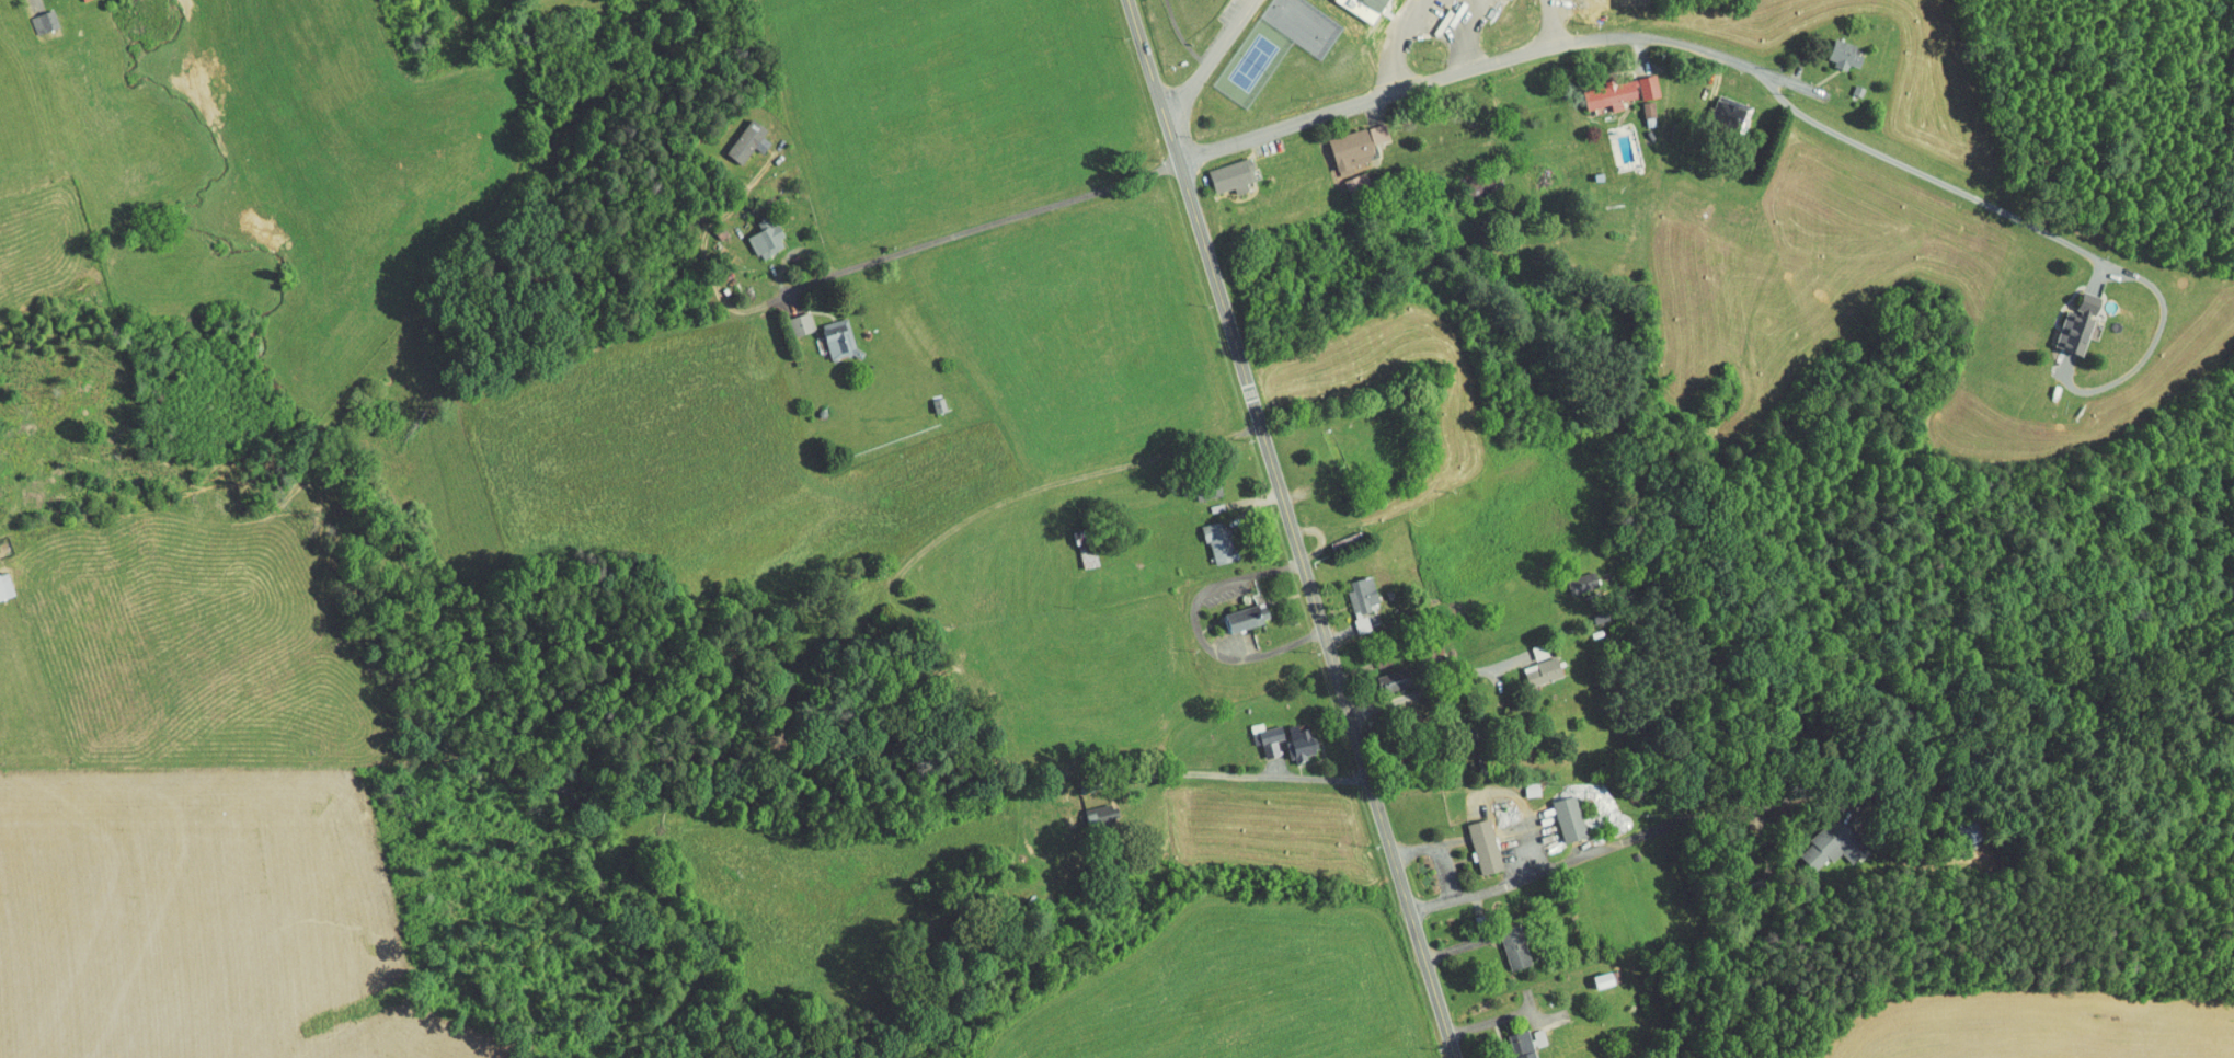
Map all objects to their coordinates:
building: (1359, 5)
building: (34, 14)
road: (1551, 22)
park: (1183, 32)
road: (1465, 34)
road: (1183, 36)
road: (1399, 43)
building: (1826, 47)
road: (1503, 59)
road: (1212, 61)
building: (1639, 80)
building: (1600, 87)
building: (1638, 102)
building: (1719, 106)
building: (738, 134)
building: (1347, 139)
building: (1223, 169)
building: (756, 230)
road: (829, 277)
building: (2060, 314)
building: (791, 317)
building: (828, 332)
road: (1054, 458)
road: (1294, 528)
building: (1207, 533)
building: (1075, 541)
building: (1573, 575)
building: (0, 588)
building: (1352, 593)
building: (1237, 609)
building: (1530, 643)
building: (1533, 663)
building: (1386, 666)
building: (1275, 733)
road: (1246, 772)
building: (1091, 807)
building: (1559, 810)
building: (1821, 837)
building: (1475, 839)
road: (1596, 840)
building: (1505, 940)
building: (1596, 971)
building: (1514, 1040)

